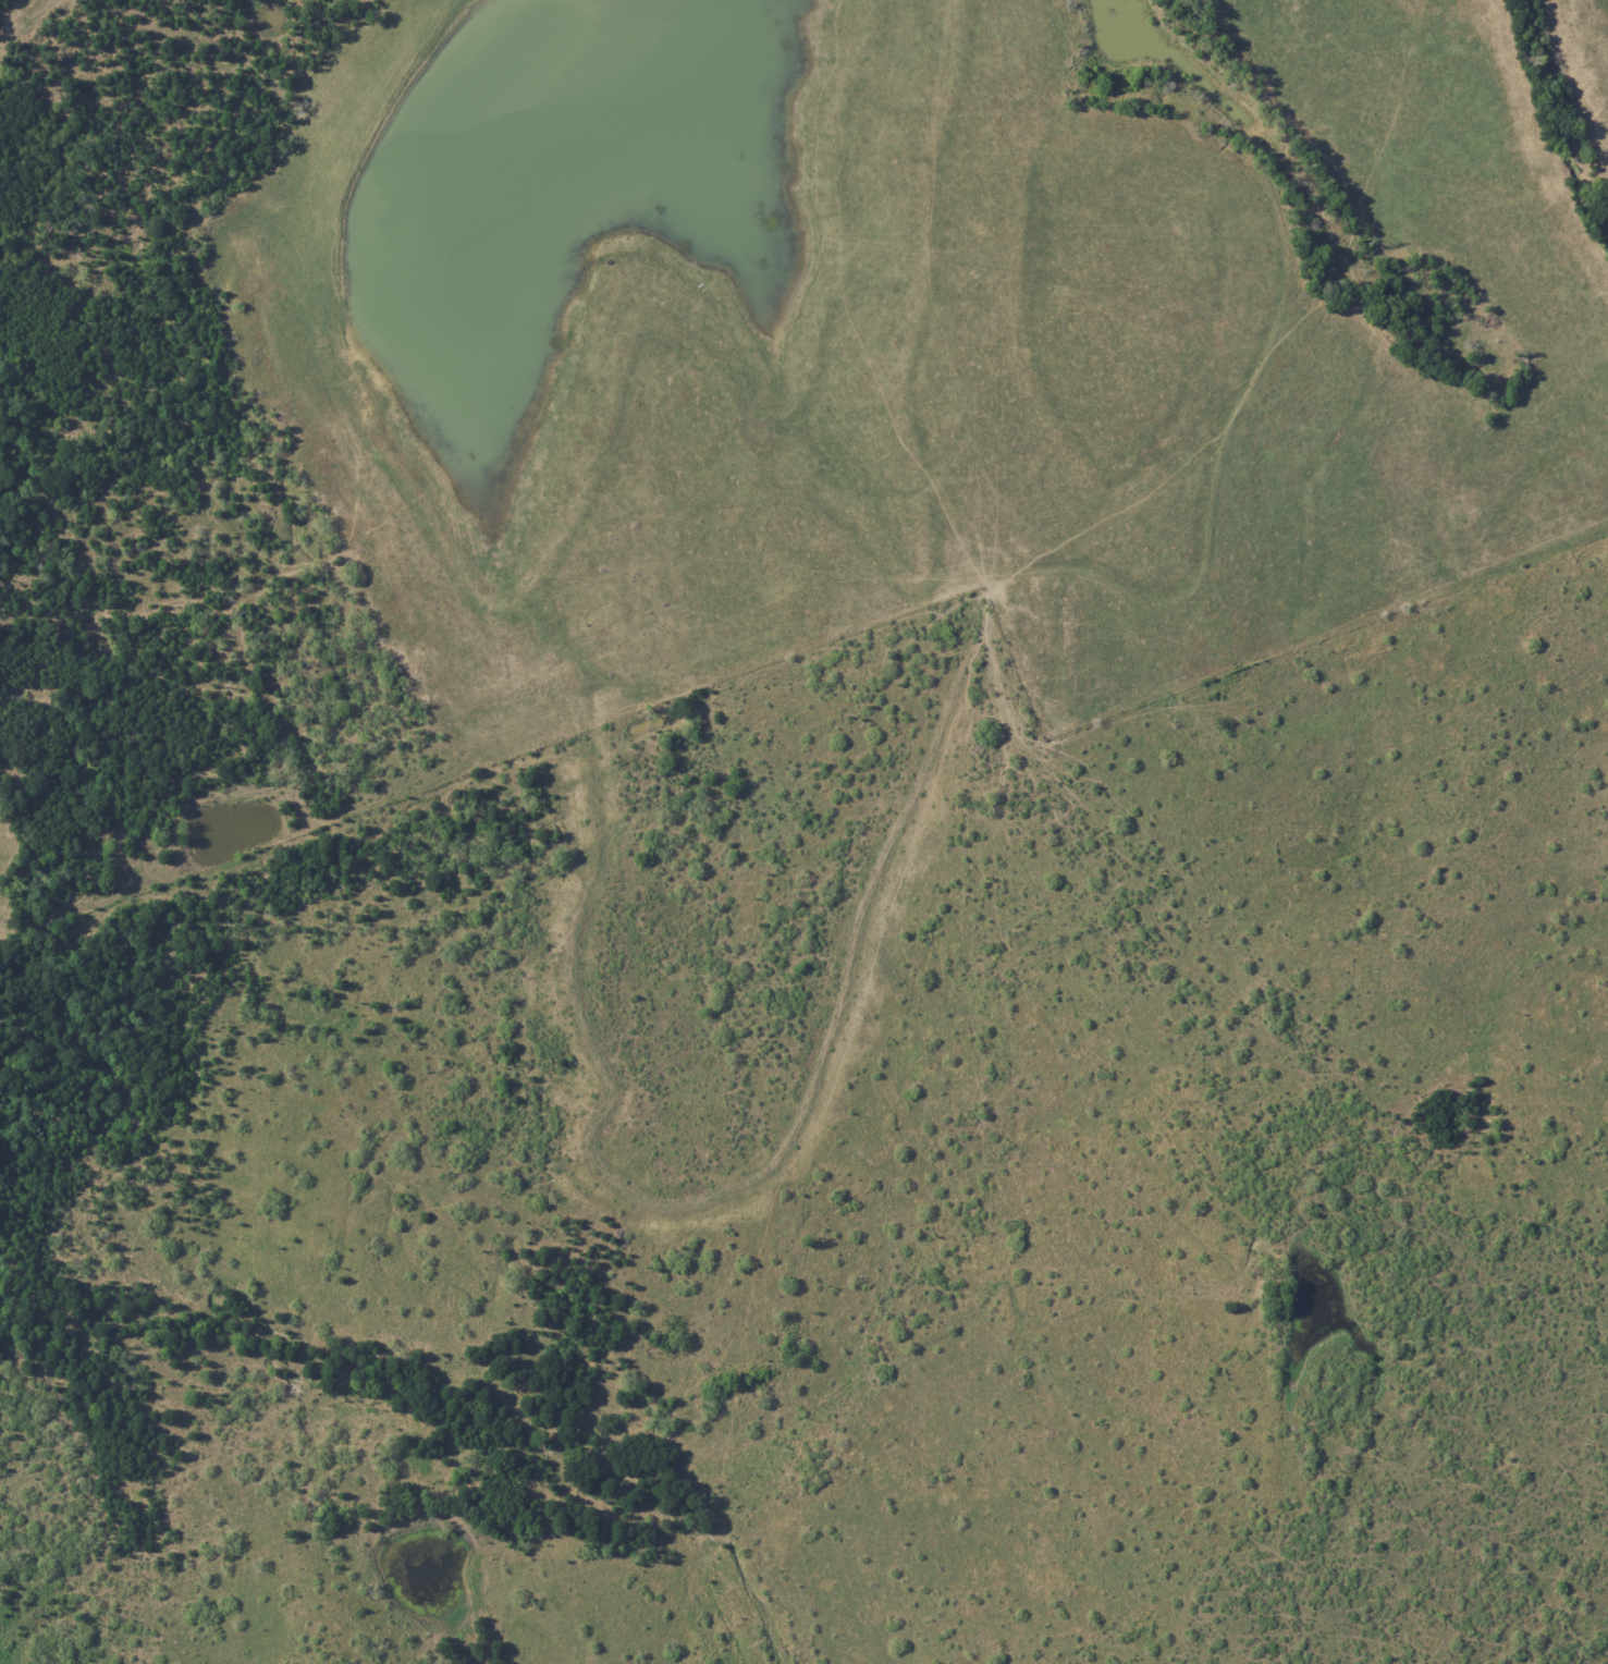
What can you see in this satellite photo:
road: (1494, 443)

